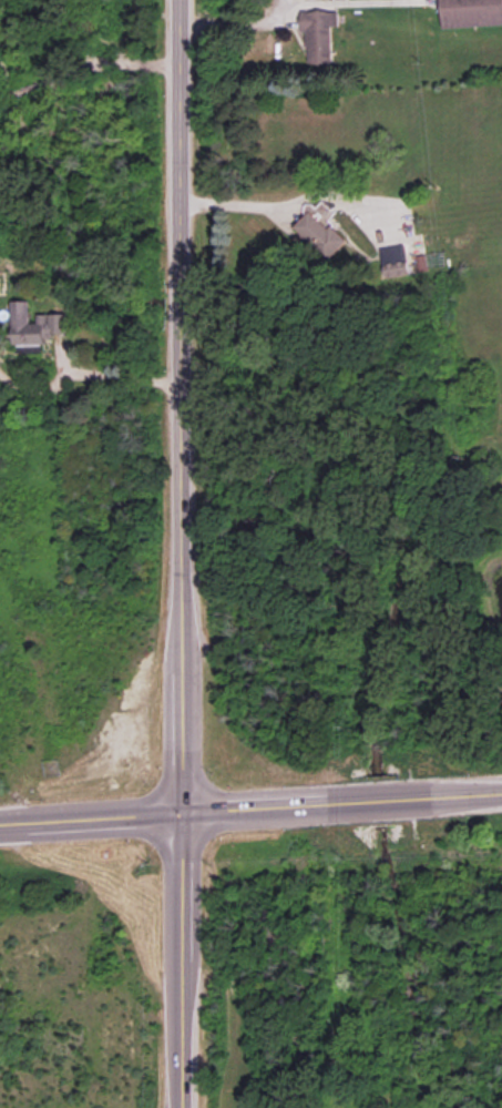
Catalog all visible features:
building: (471, 12)
road: (235, 20)
building: (319, 35)
road: (86, 64)
road: (293, 200)
building: (319, 234)
building: (397, 268)
building: (35, 324)
road: (117, 374)
road: (178, 553)
road: (250, 809)

